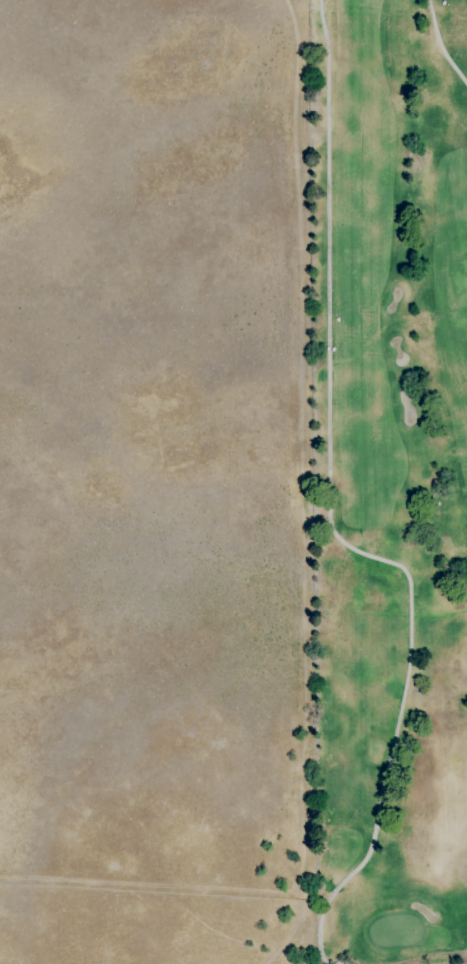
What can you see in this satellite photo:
road: (439, 46)
park: (388, 479)
park: (155, 483)
road: (328, 518)
road: (282, 938)

